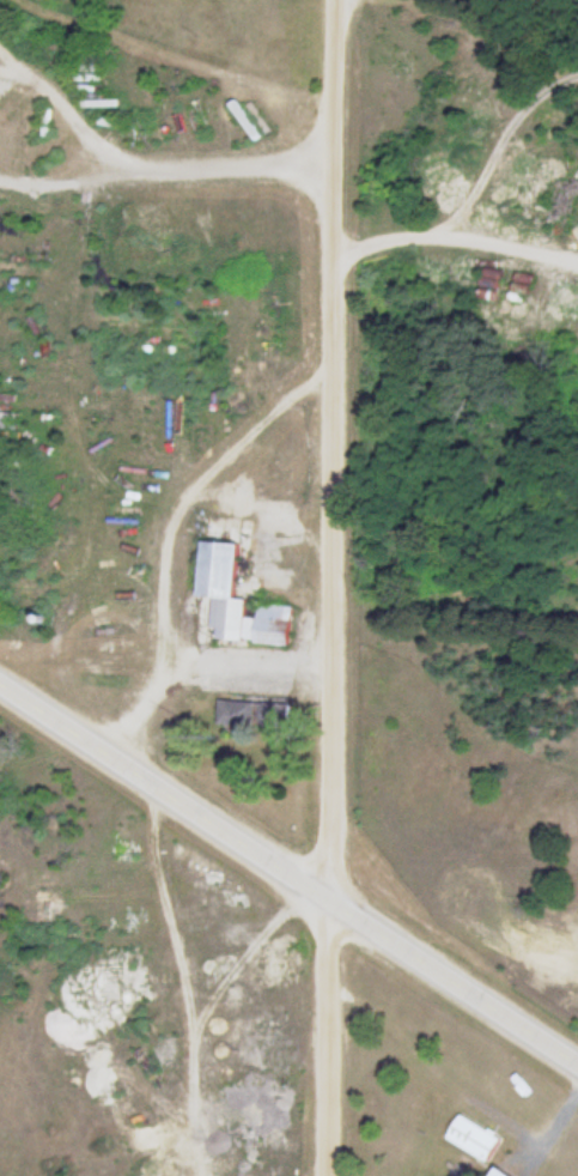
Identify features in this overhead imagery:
building: (11, 129)
road: (327, 588)
building: (241, 602)
building: (256, 715)
road: (288, 874)
building: (475, 1138)
building: (504, 1171)

